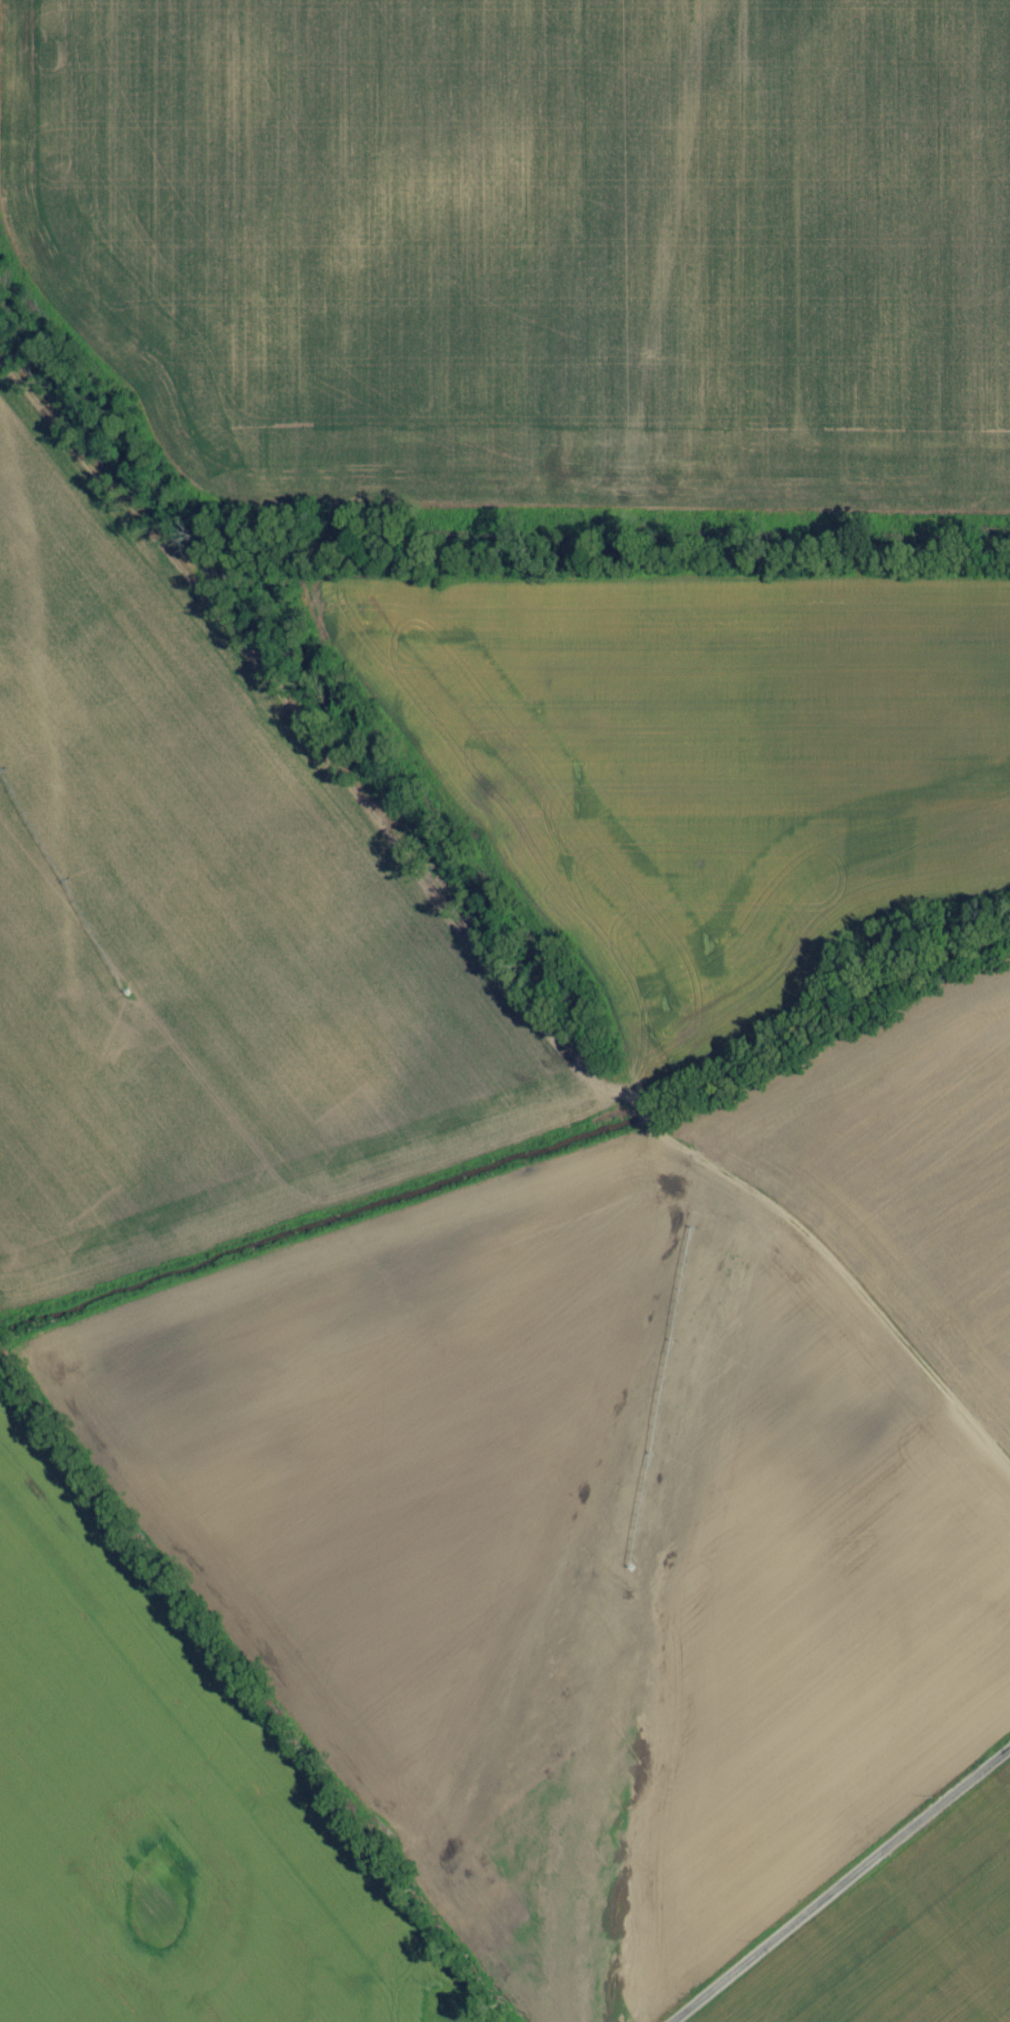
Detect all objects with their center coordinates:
road: (852, 1892)

